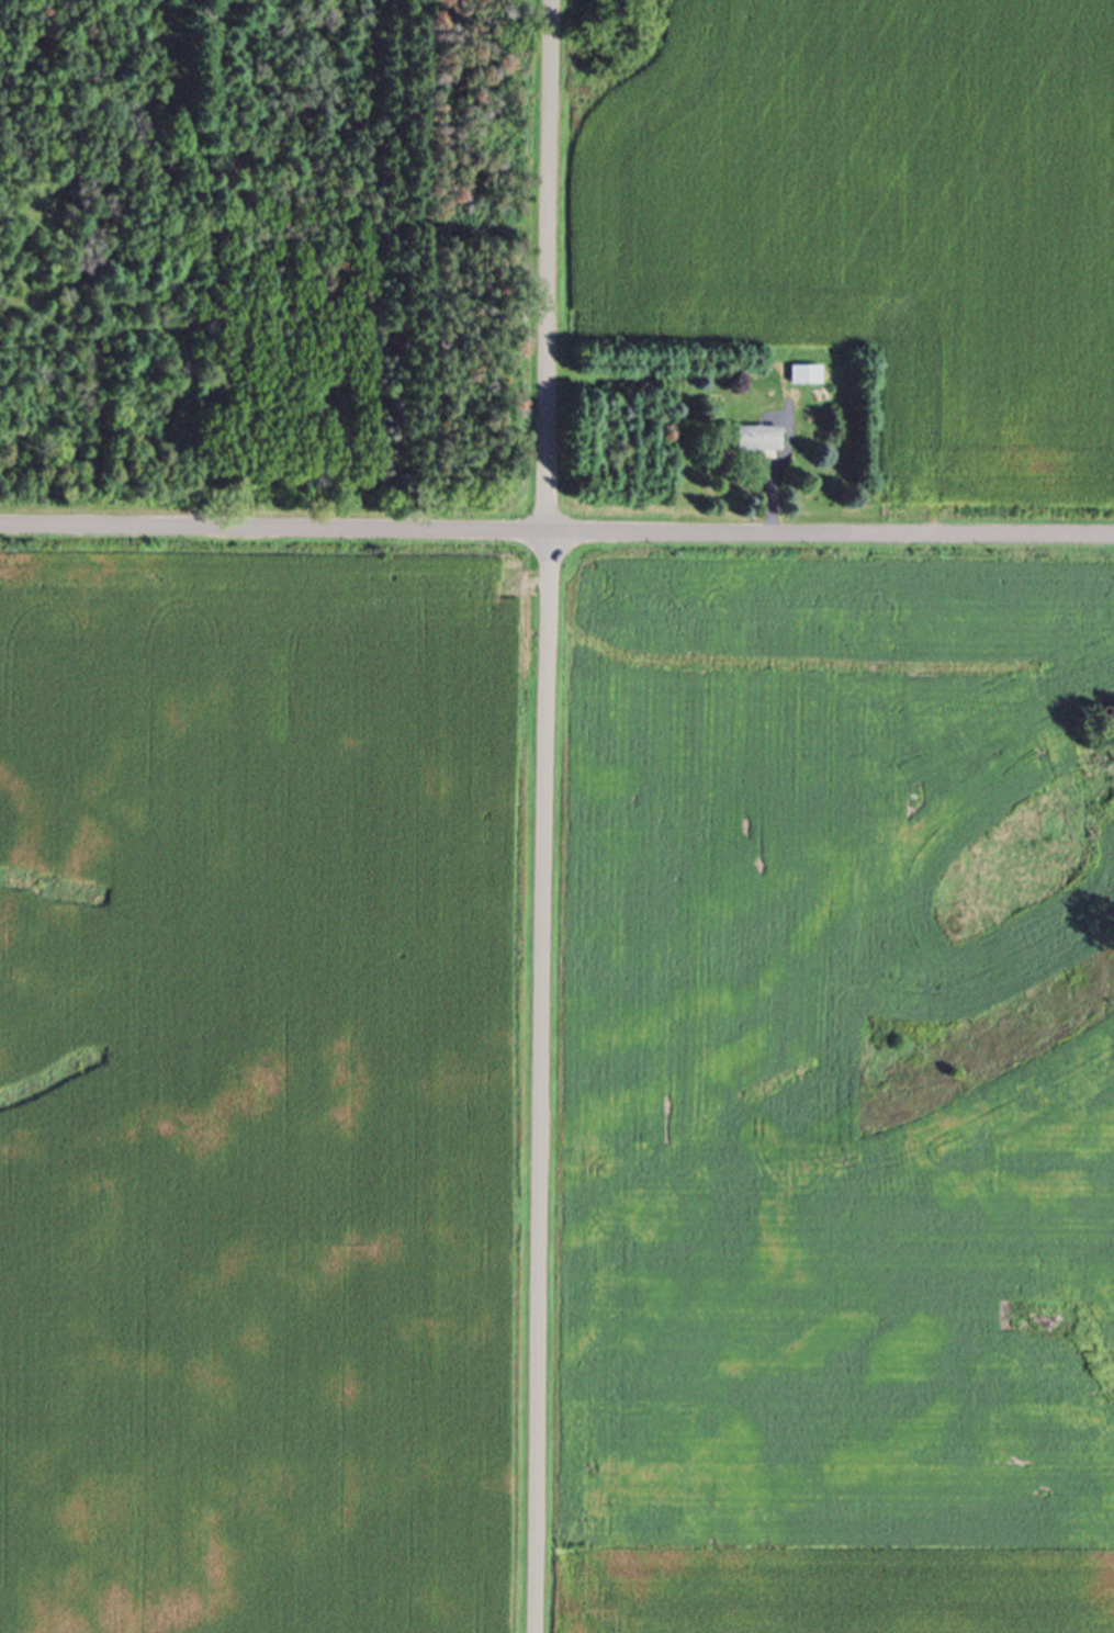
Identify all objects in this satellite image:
building: (638, 57)
building: (806, 379)
building: (756, 442)
road: (556, 533)
road: (544, 815)

